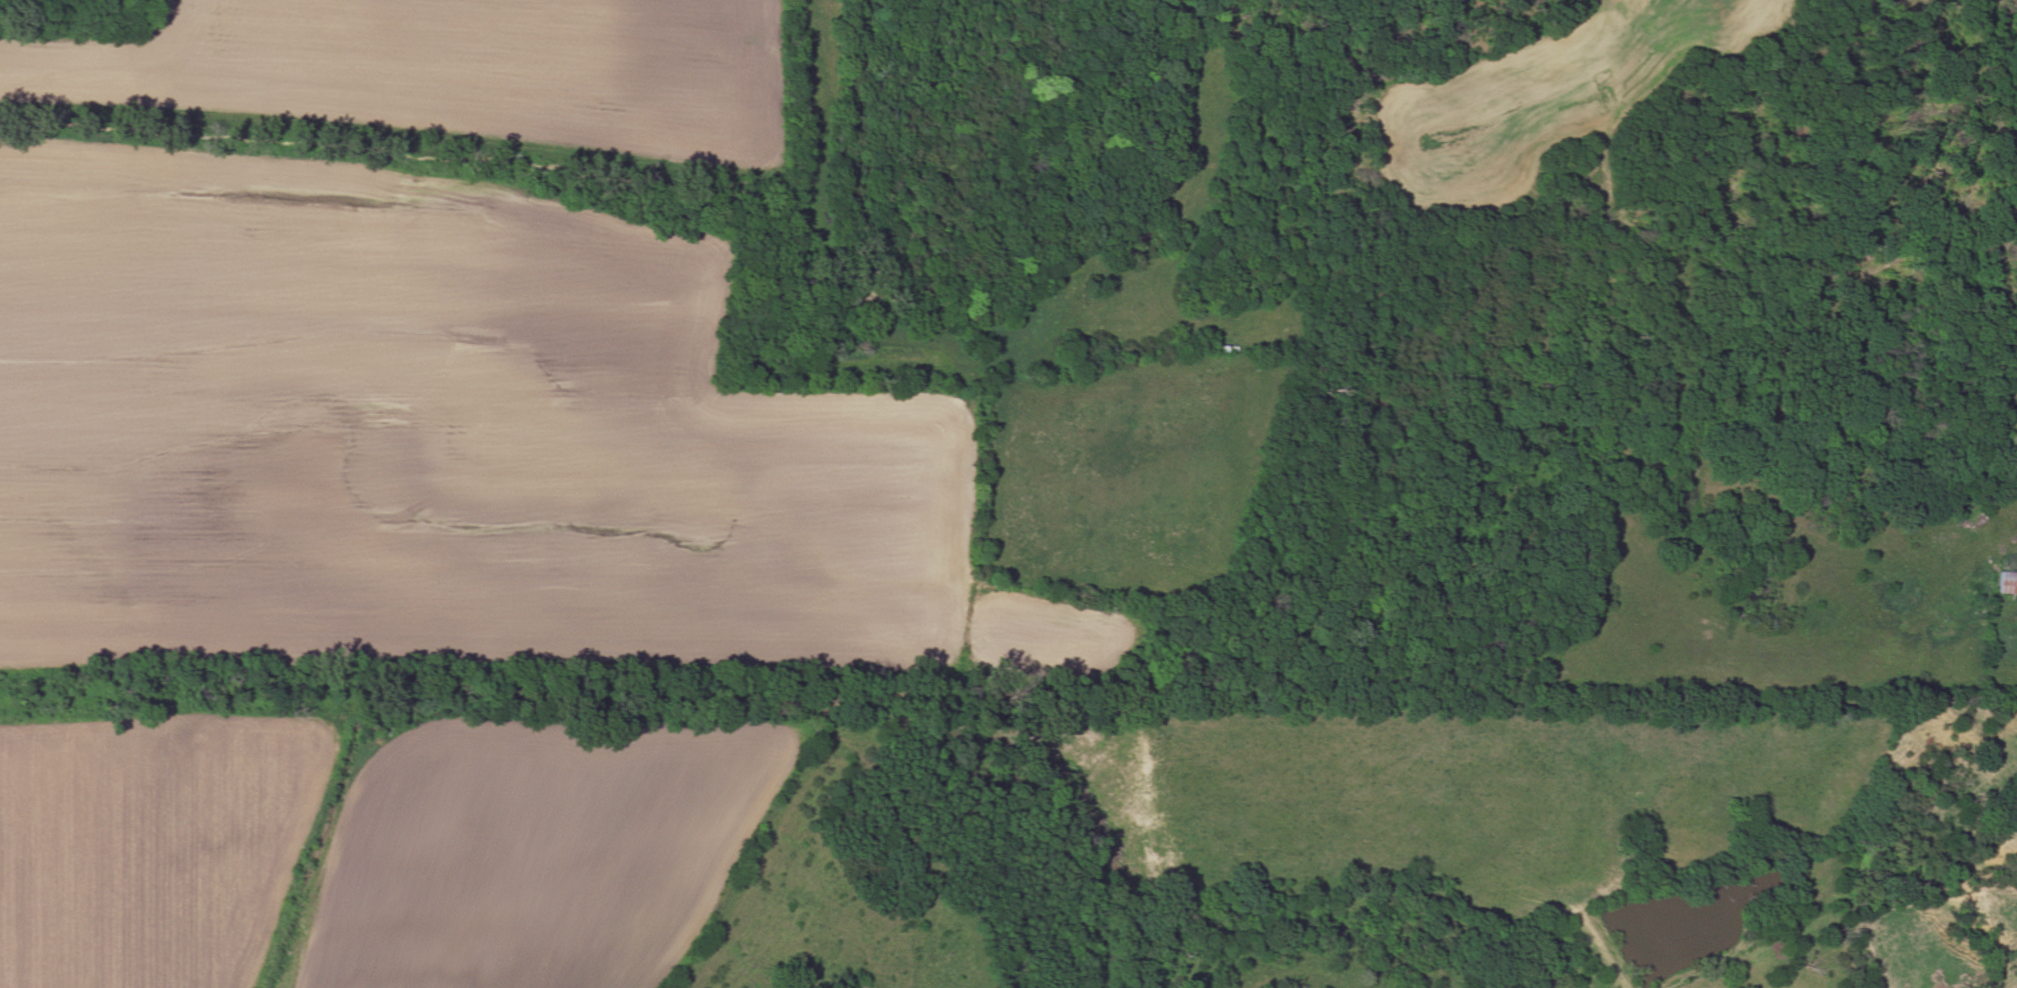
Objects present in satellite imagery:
building: (2005, 582)

